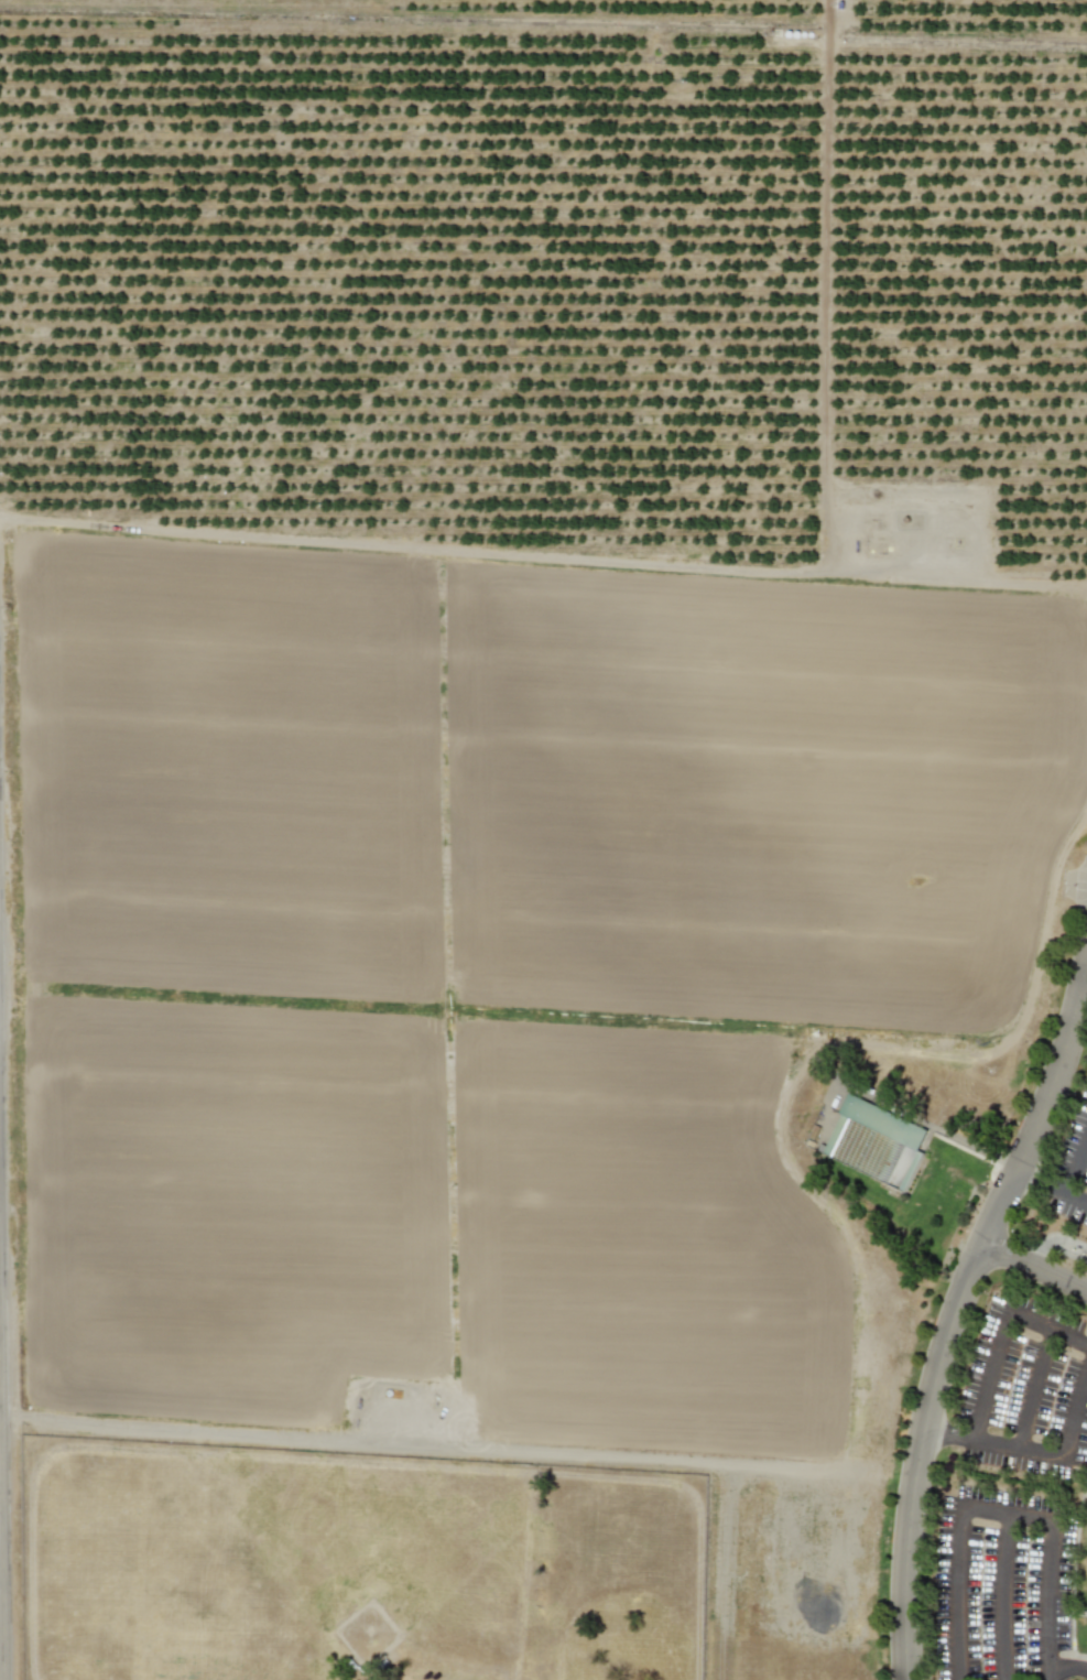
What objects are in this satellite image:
road: (543, 560)
building: (876, 1141)
road: (1075, 1162)
road: (1054, 1185)
road: (1036, 1266)
road: (957, 1323)
road: (1001, 1338)
road: (427, 1443)
road: (1034, 1450)
road: (996, 1506)
road: (0, 1548)
road: (1003, 1594)
road: (1066, 1663)

